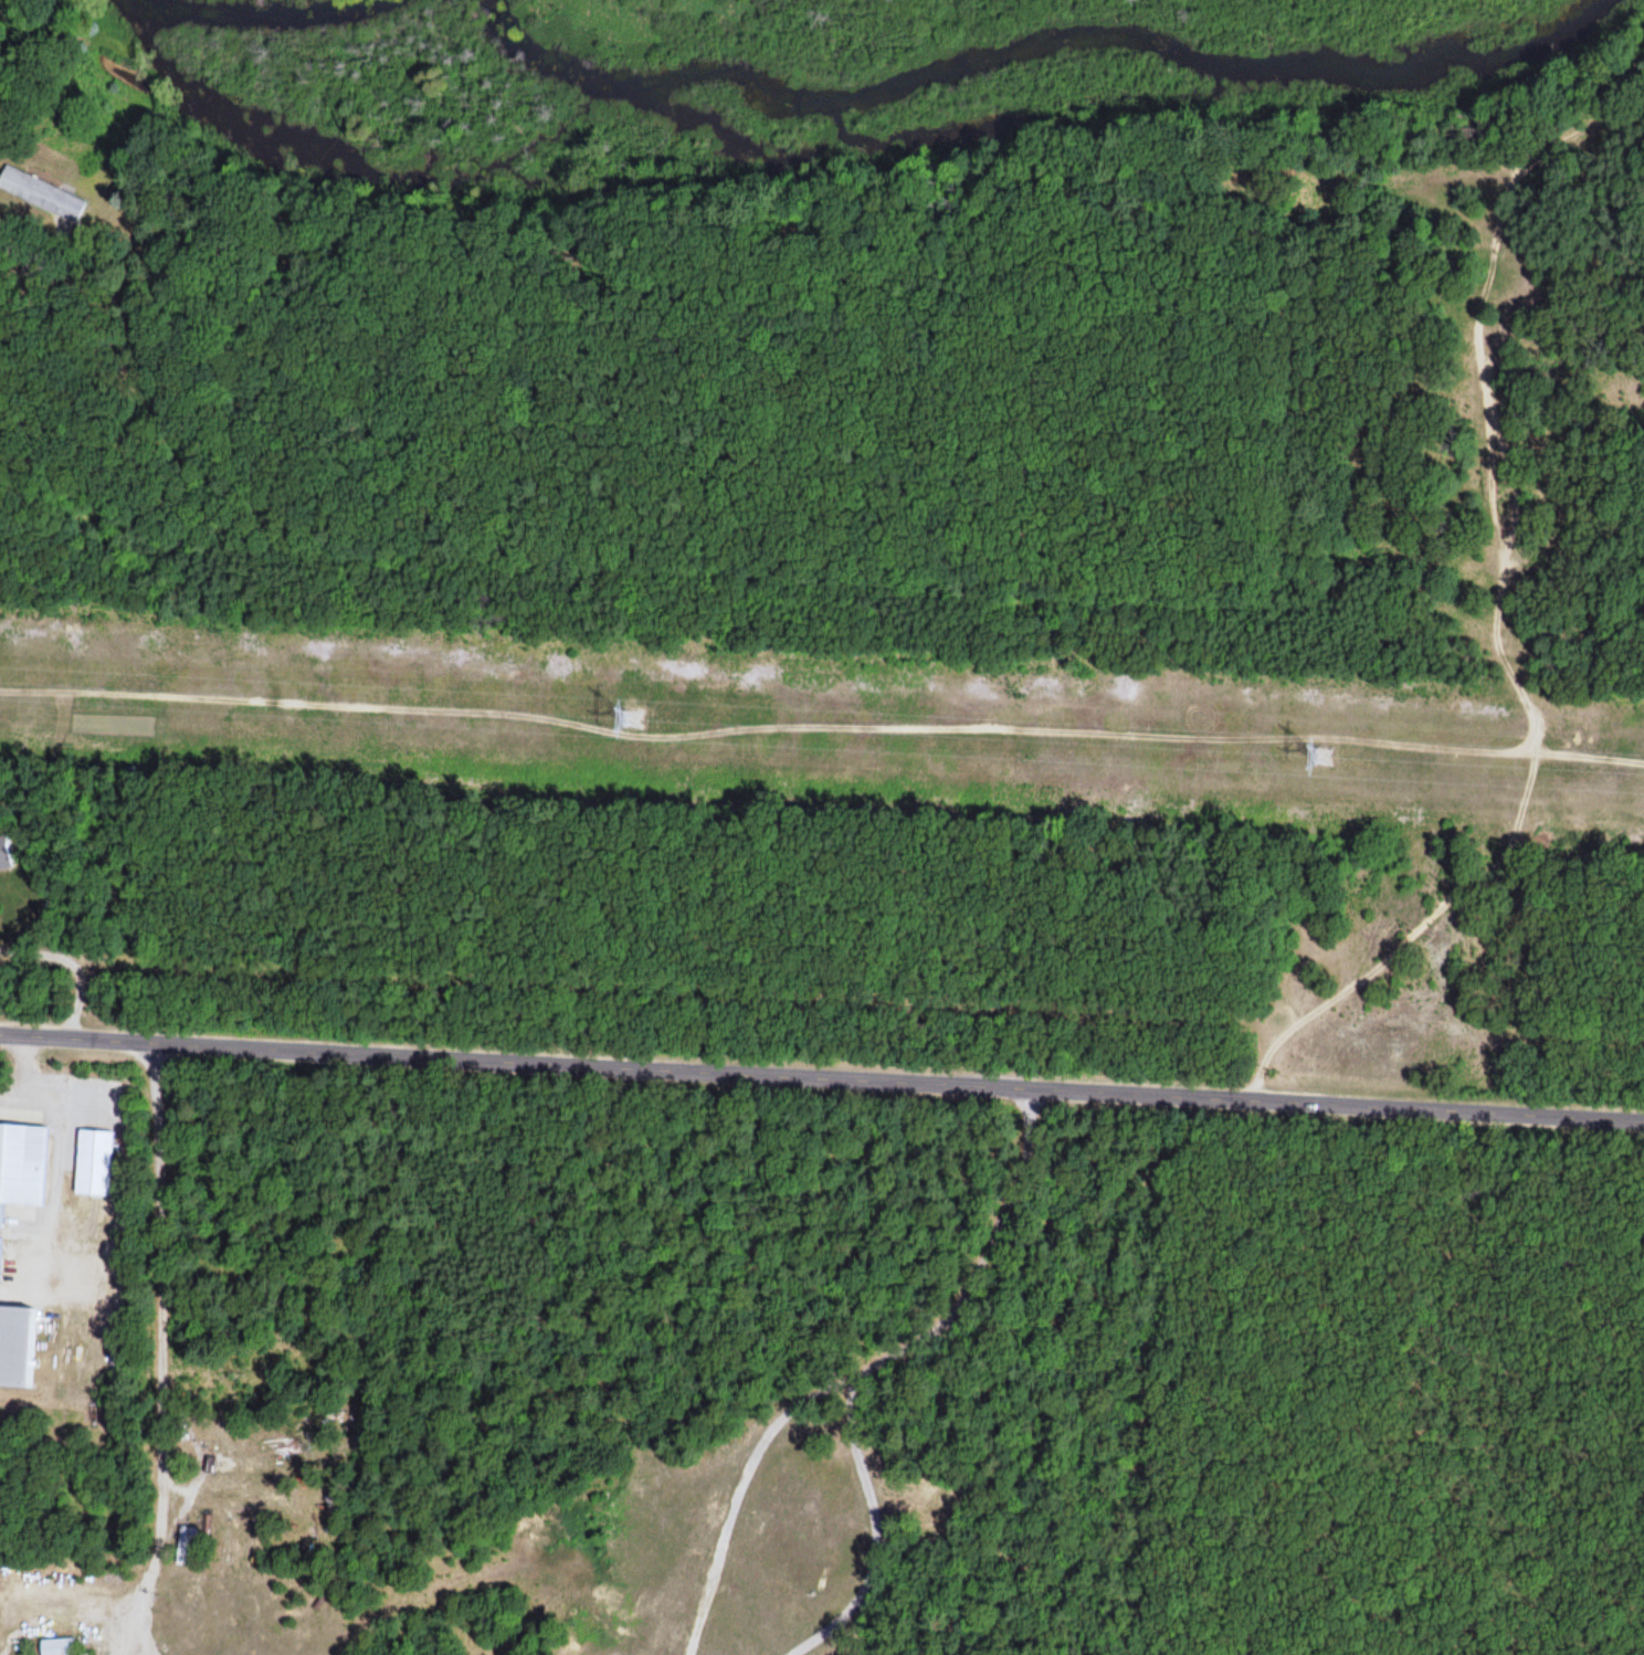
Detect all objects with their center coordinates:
building: (43, 196)
road: (1498, 609)
power tower: (633, 719)
road: (821, 739)
power tower: (1321, 757)
building: (3, 855)
road: (822, 1078)
building: (94, 1163)
building: (22, 1164)
building: (15, 1345)
building: (183, 1547)
building: (56, 1647)

